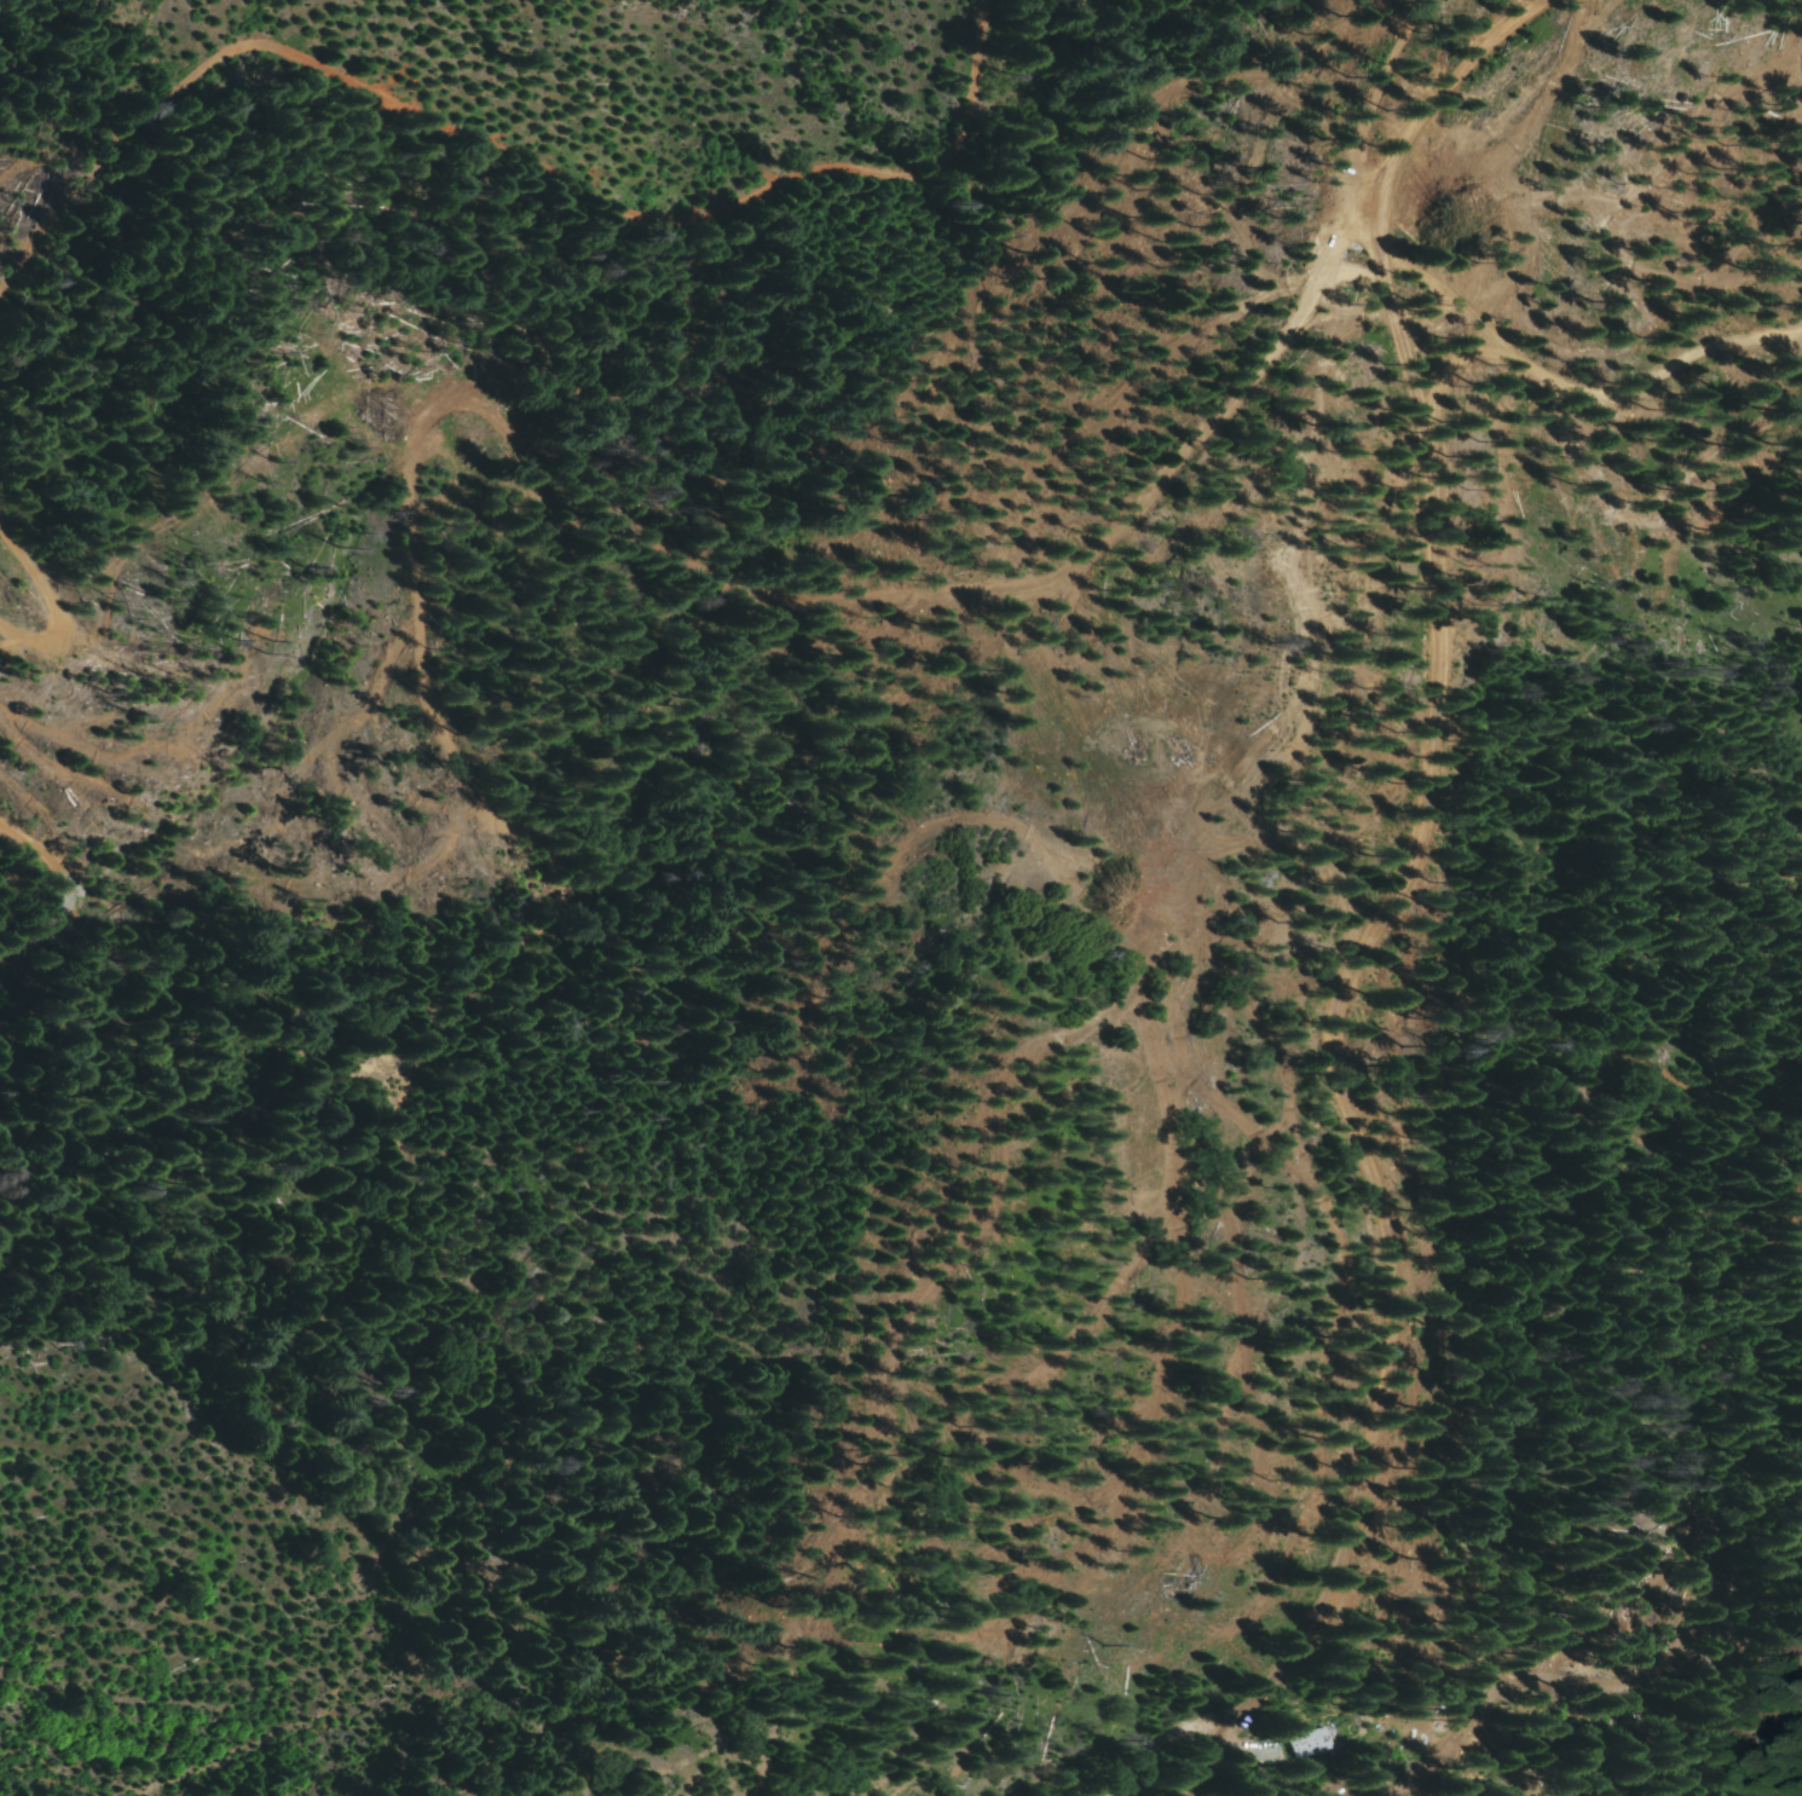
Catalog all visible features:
road: (1399, 87)
road: (509, 152)
road: (1605, 381)
road: (421, 484)
road: (56, 568)
road: (62, 876)
road: (1390, 900)
road: (1607, 1553)
building: (1794, 1661)
road: (819, 1669)
building: (1725, 1671)
building: (1535, 1736)
road: (1190, 1738)
building: (1309, 1743)

